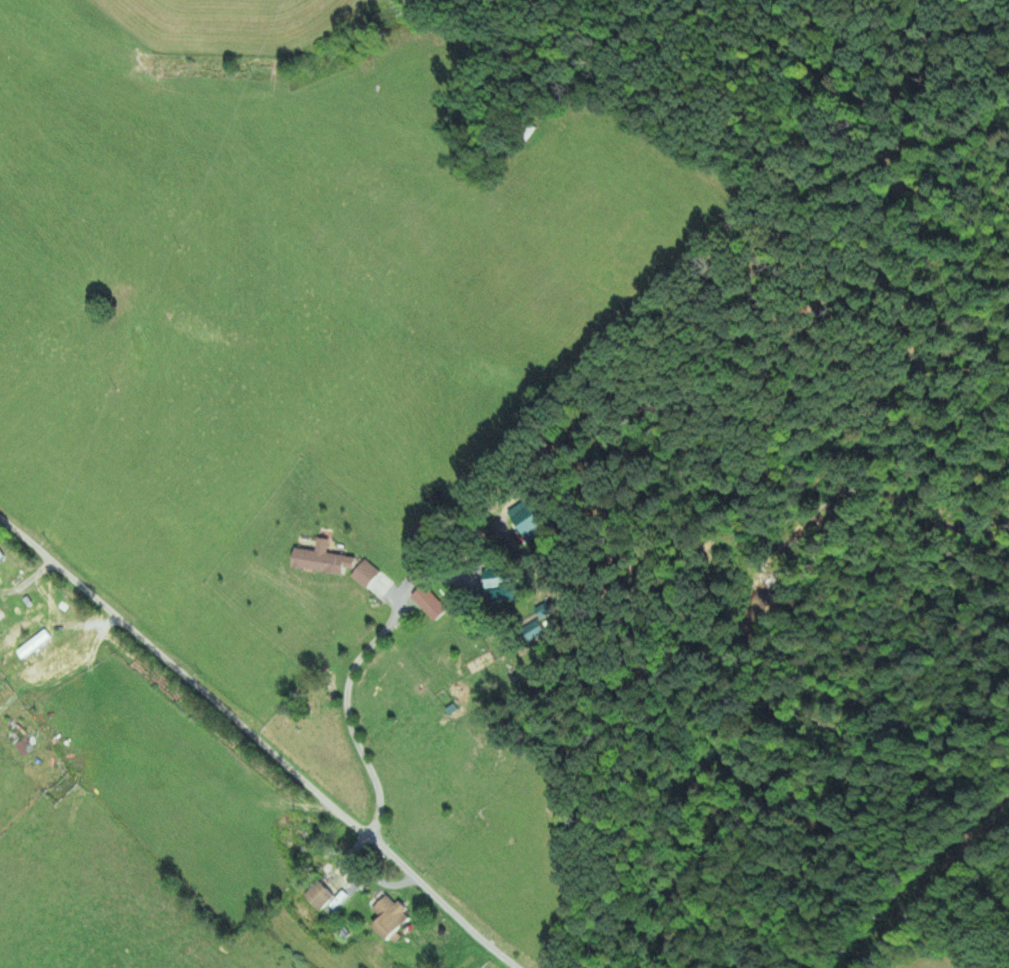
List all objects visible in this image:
building: (1, 555)
building: (432, 606)
building: (22, 736)
road: (244, 754)
building: (311, 829)
road: (935, 895)
building: (319, 897)
building: (389, 918)

